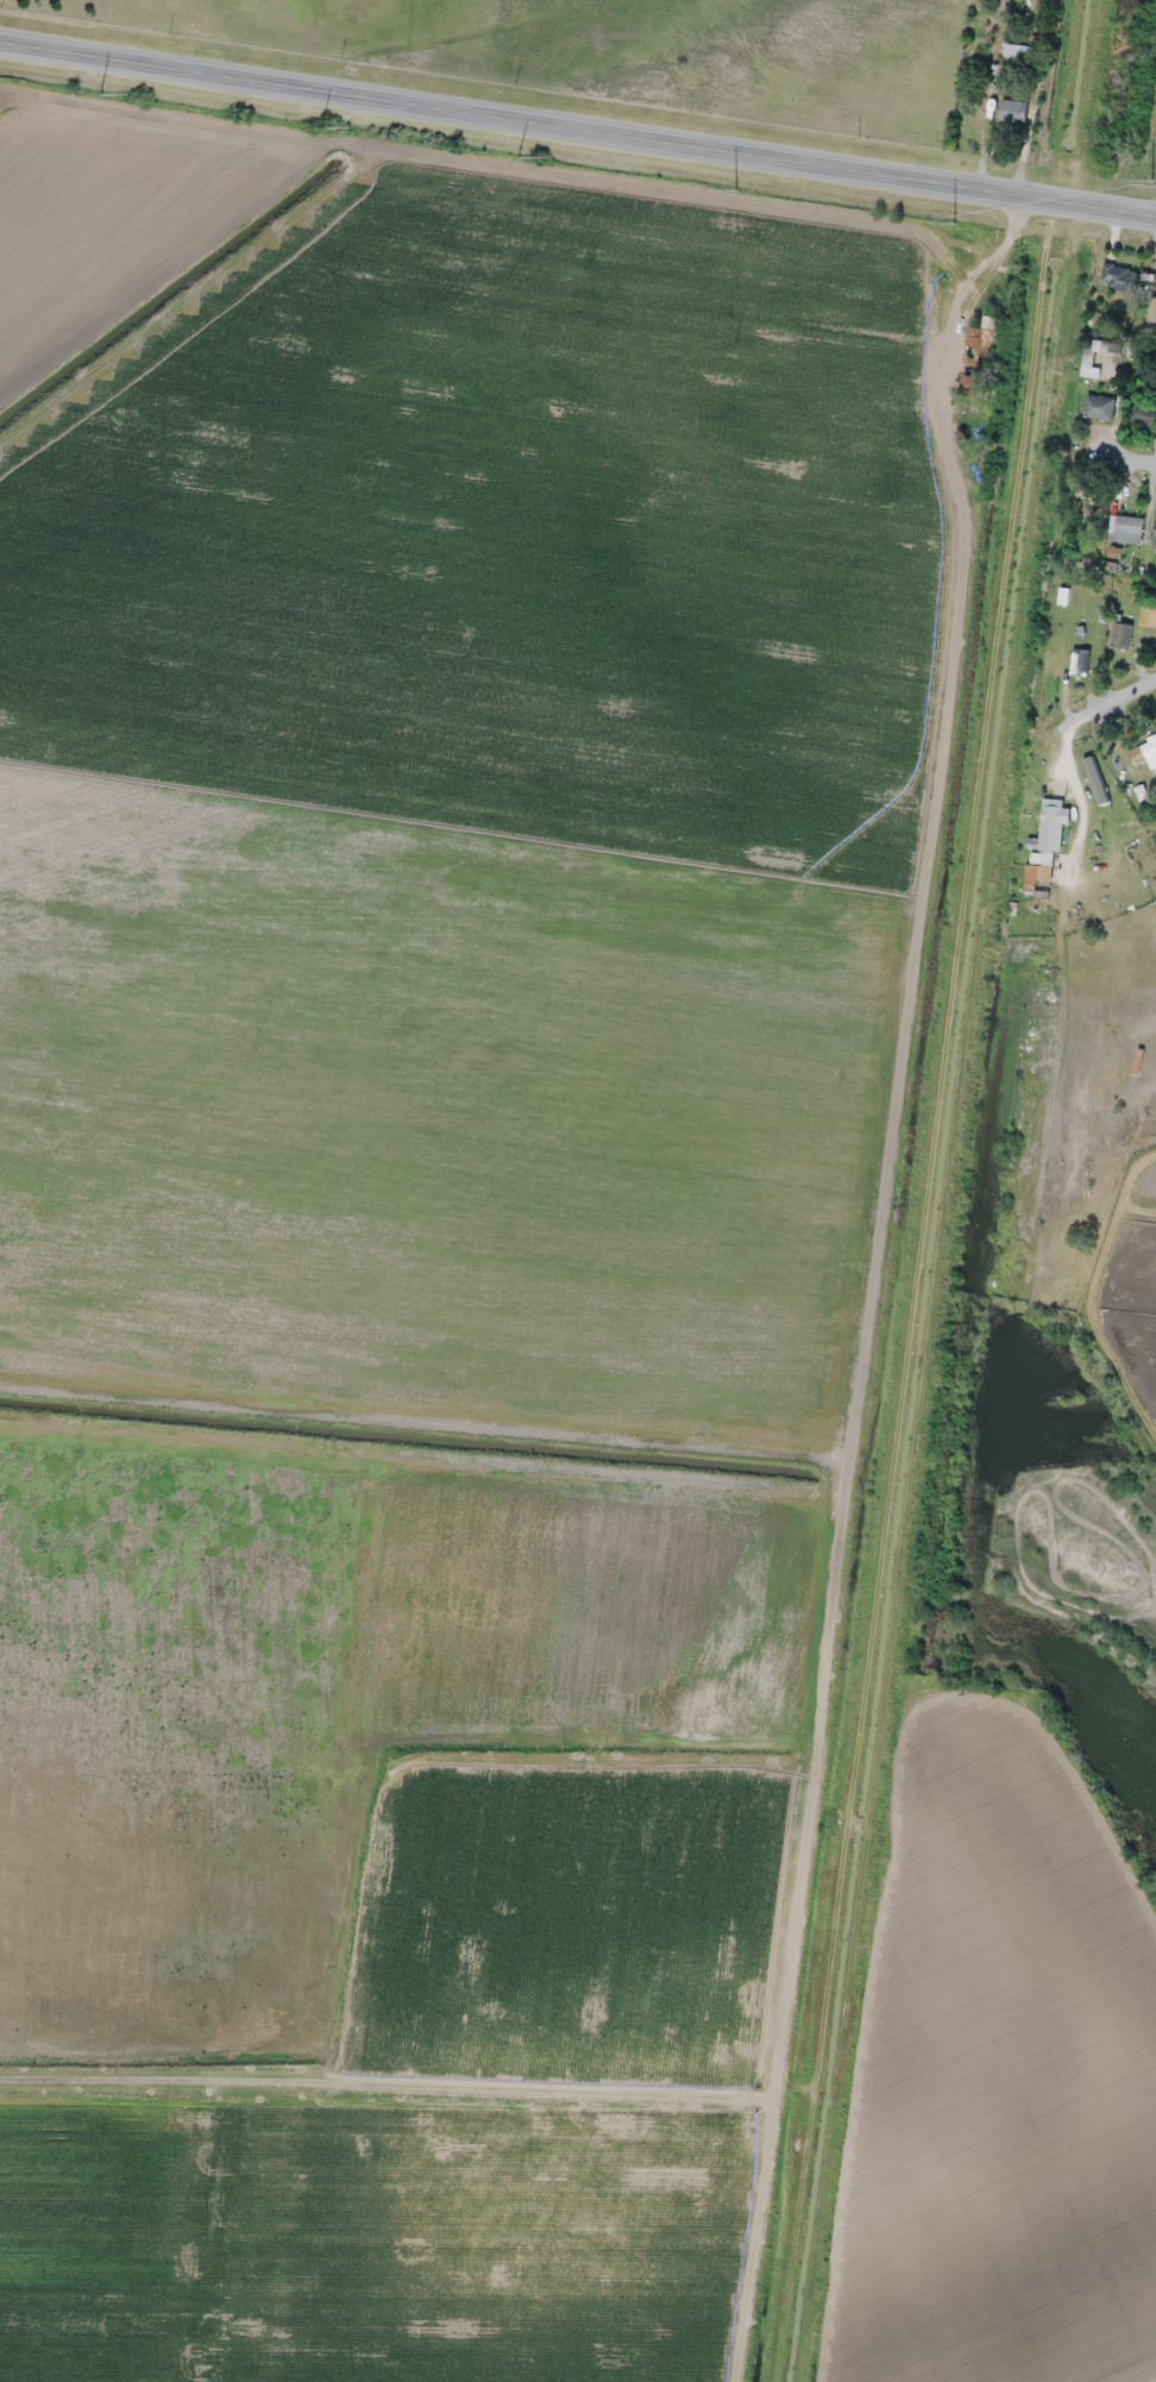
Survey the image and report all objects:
building: (1016, 50)
building: (1013, 111)
road: (577, 137)
building: (1119, 277)
building: (1151, 309)
building: (979, 358)
building: (1100, 406)
building: (1144, 415)
road: (1124, 452)
building: (1126, 528)
building: (1155, 533)
building: (1148, 615)
building: (1122, 634)
building: (1080, 660)
building: (1053, 684)
road: (1118, 696)
building: (1143, 753)
building: (1045, 847)

